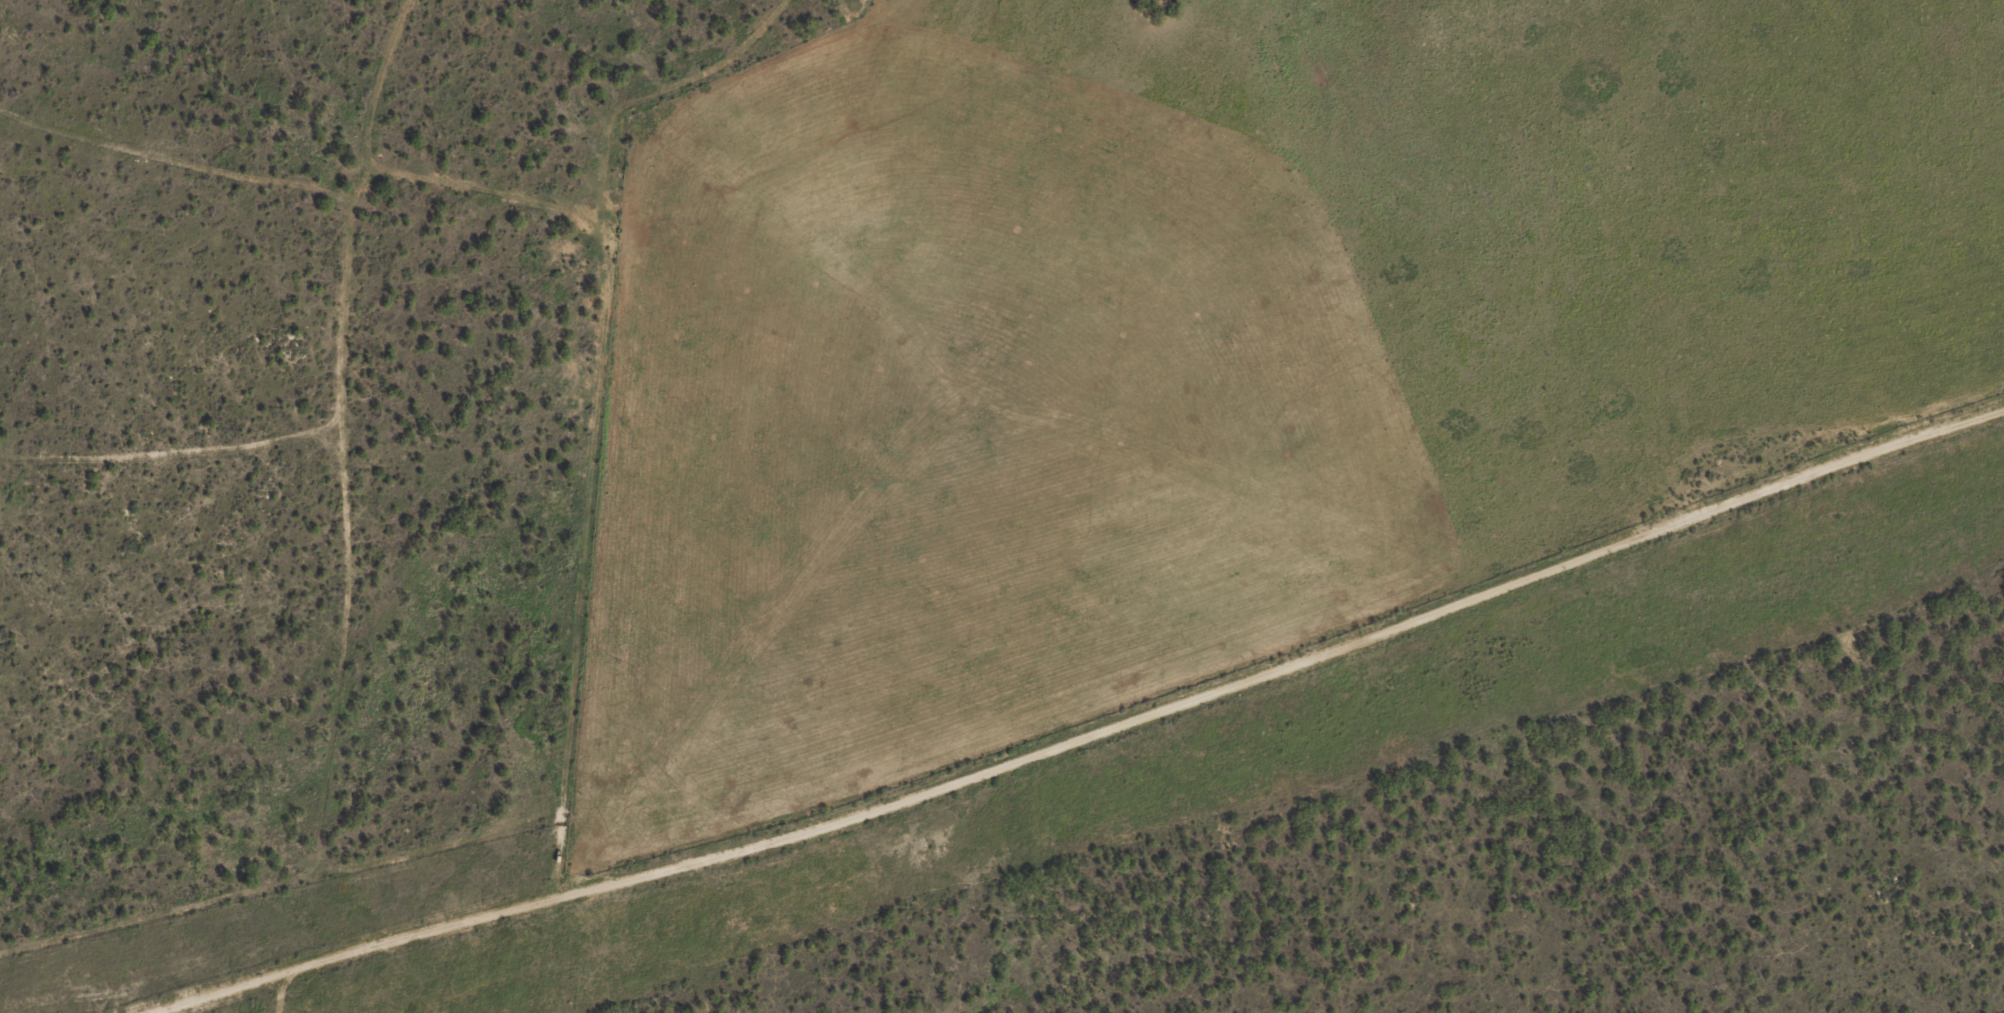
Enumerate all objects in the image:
road: (335, 507)
road: (1138, 727)
road: (235, 1008)

